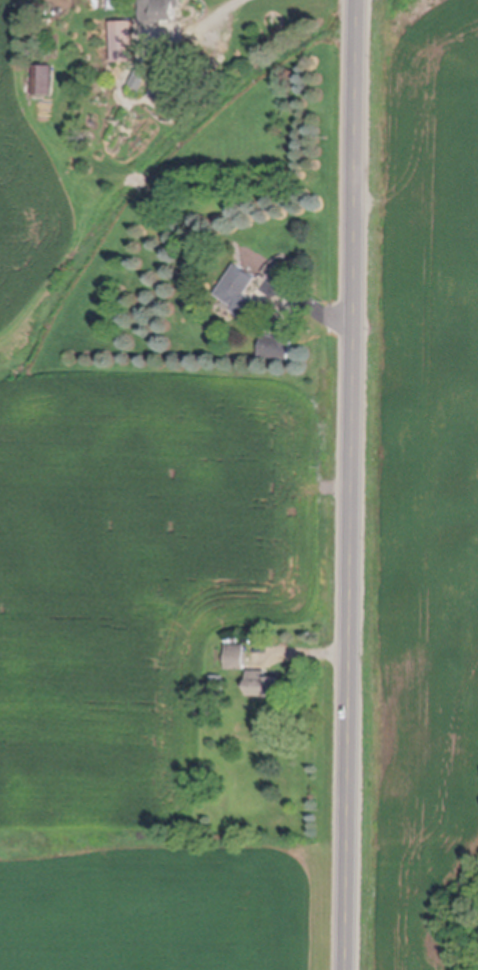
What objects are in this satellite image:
building: (160, 9)
road: (210, 25)
building: (125, 38)
building: (45, 77)
building: (140, 77)
building: (243, 293)
building: (277, 346)
road: (352, 484)
building: (236, 656)
building: (216, 683)
building: (263, 683)

